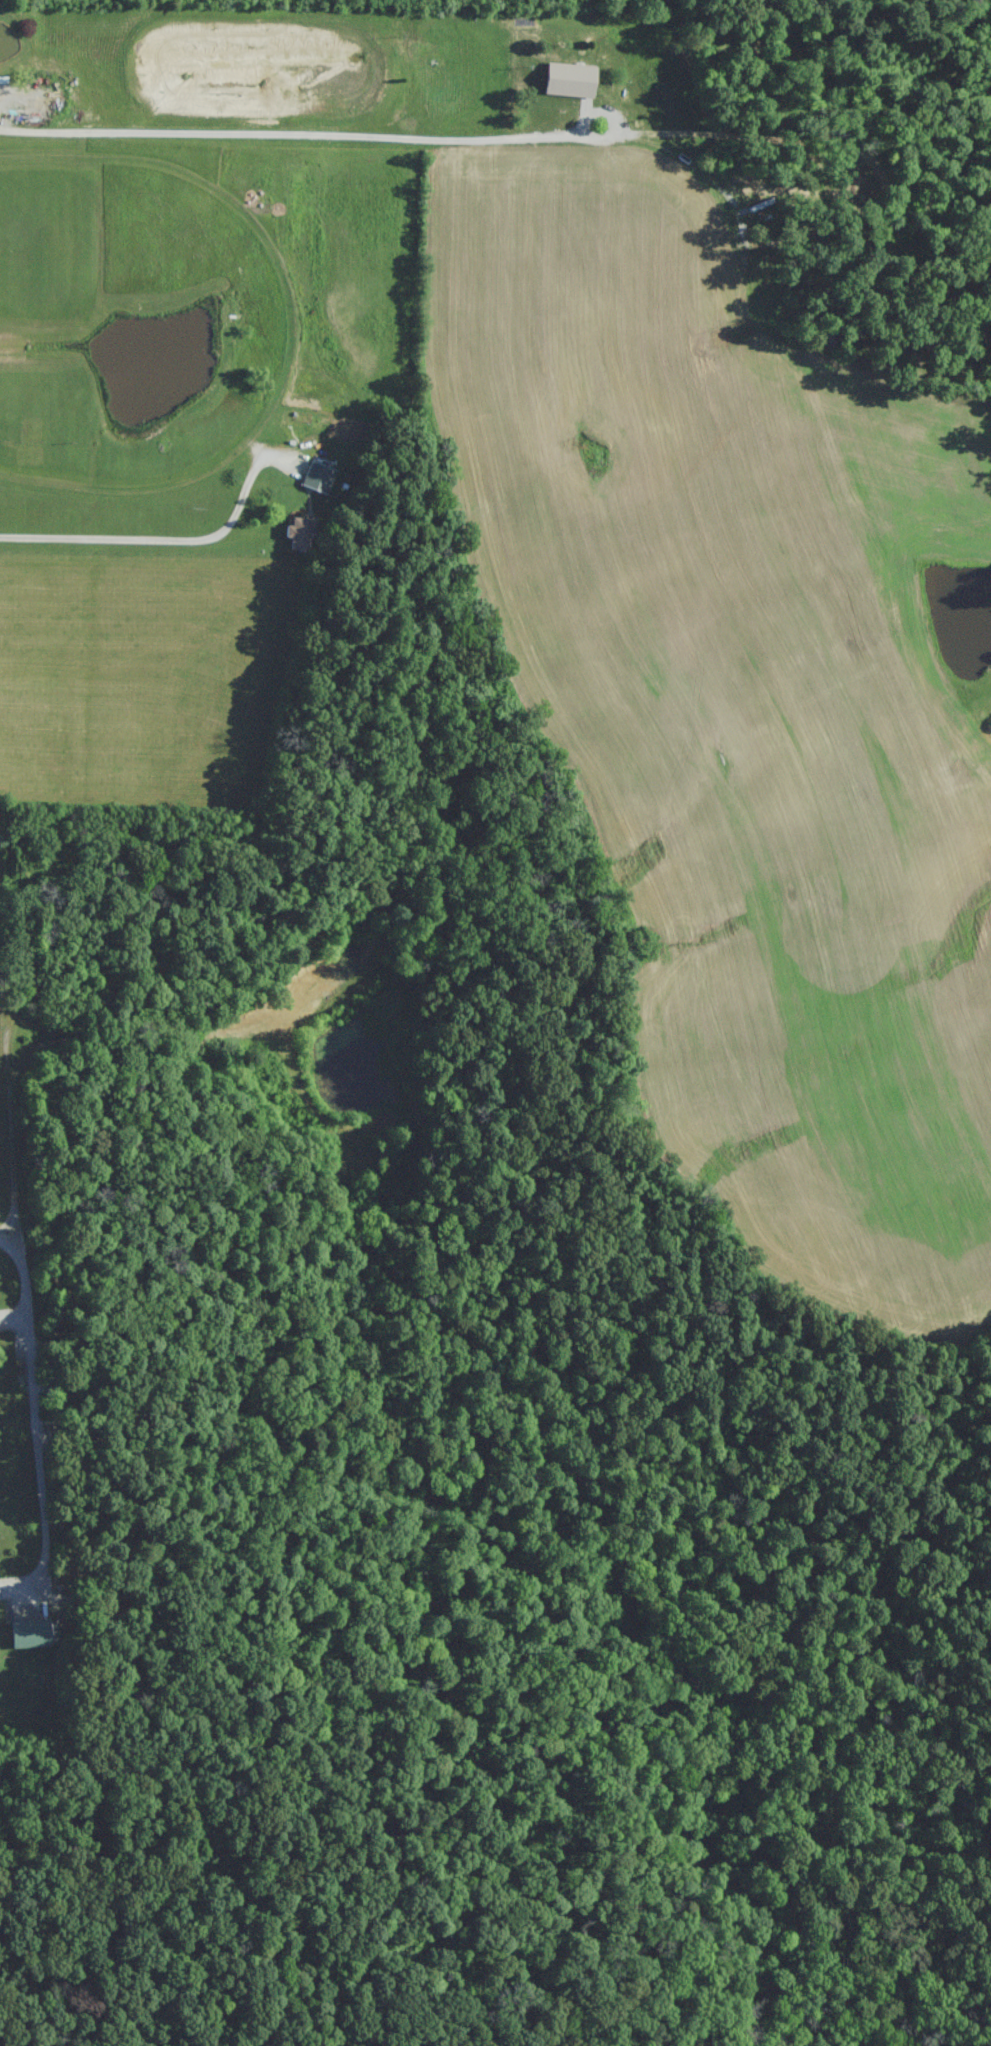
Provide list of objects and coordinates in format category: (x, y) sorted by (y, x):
building: (579, 96)
road: (591, 116)
road: (382, 142)
building: (318, 478)
building: (299, 535)
road: (31, 1415)

